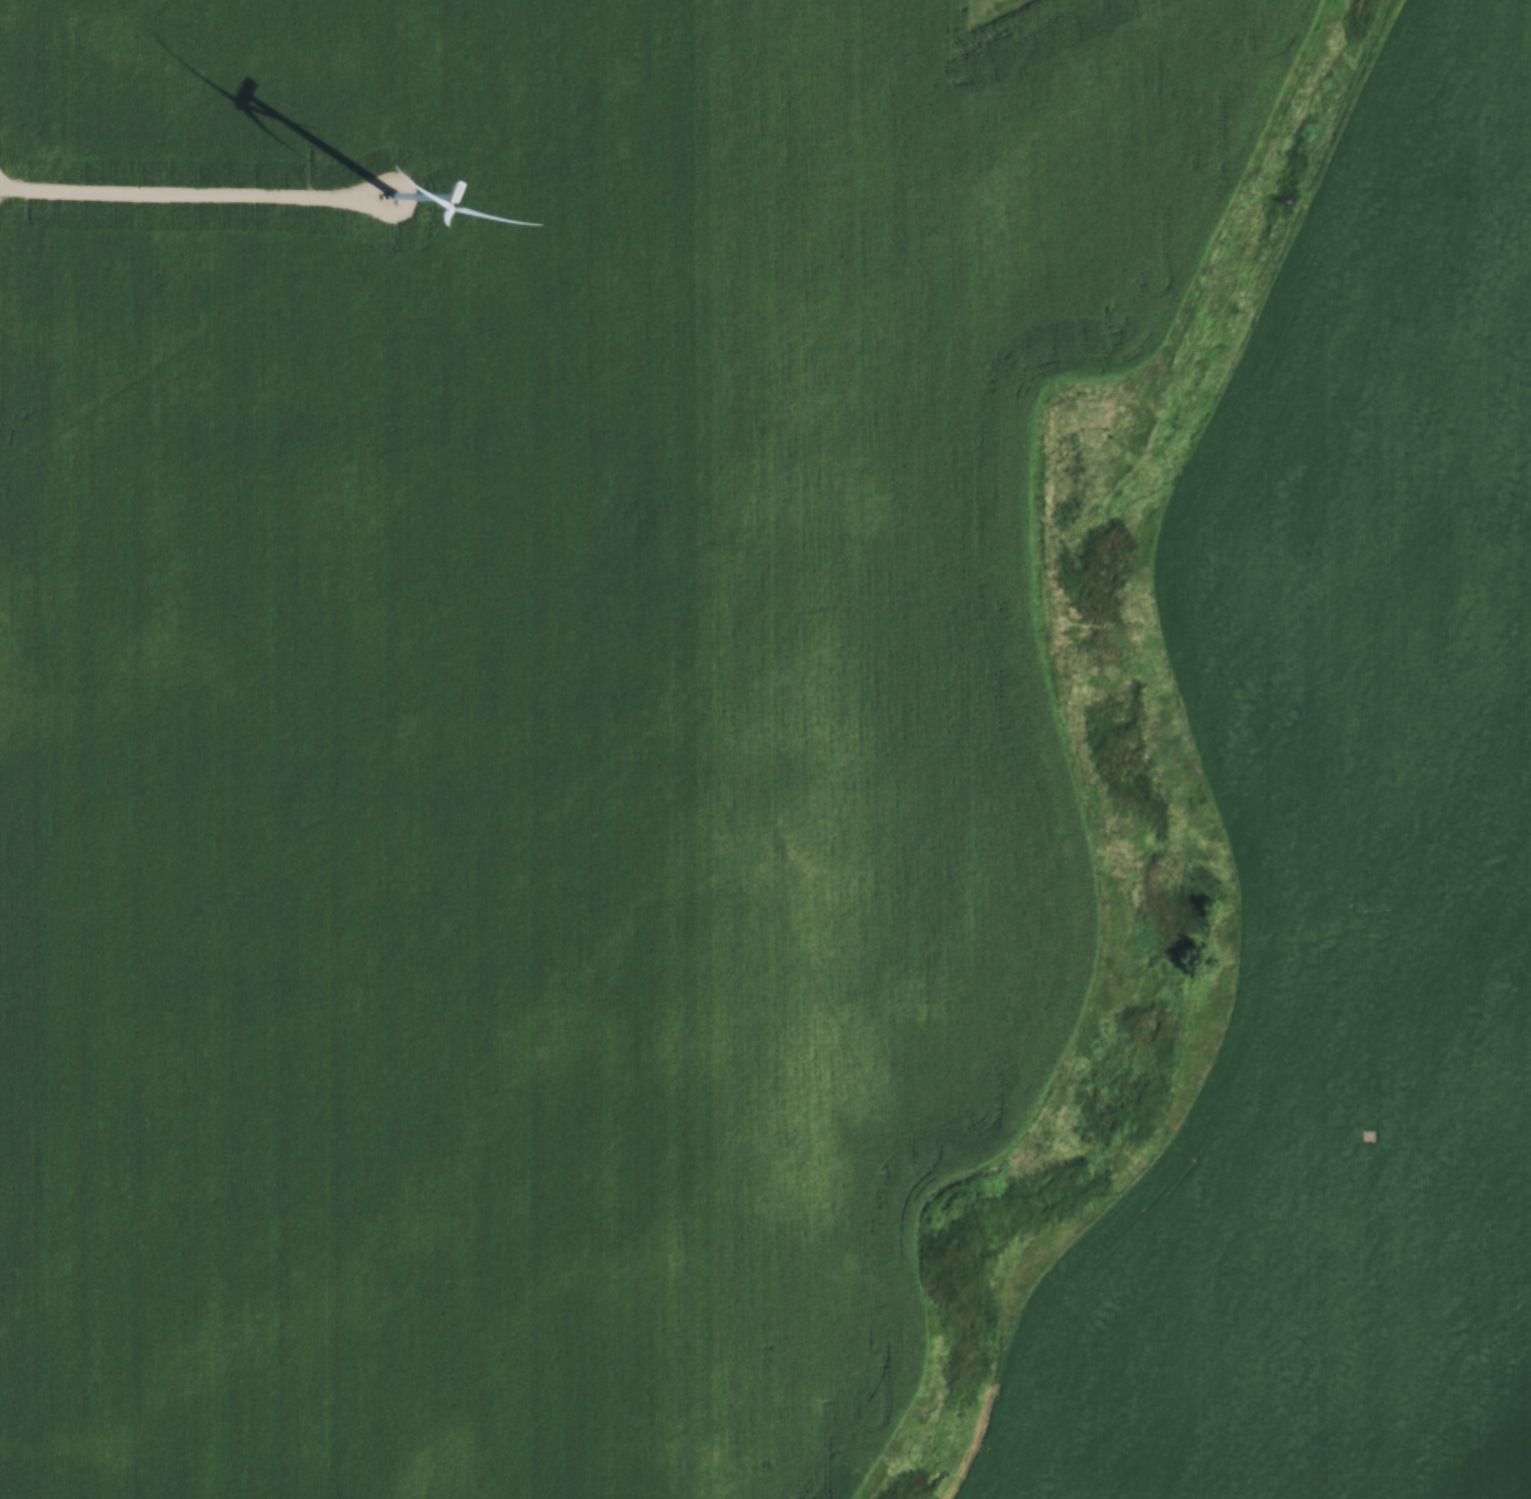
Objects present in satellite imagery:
wind turbine: (395, 200)

